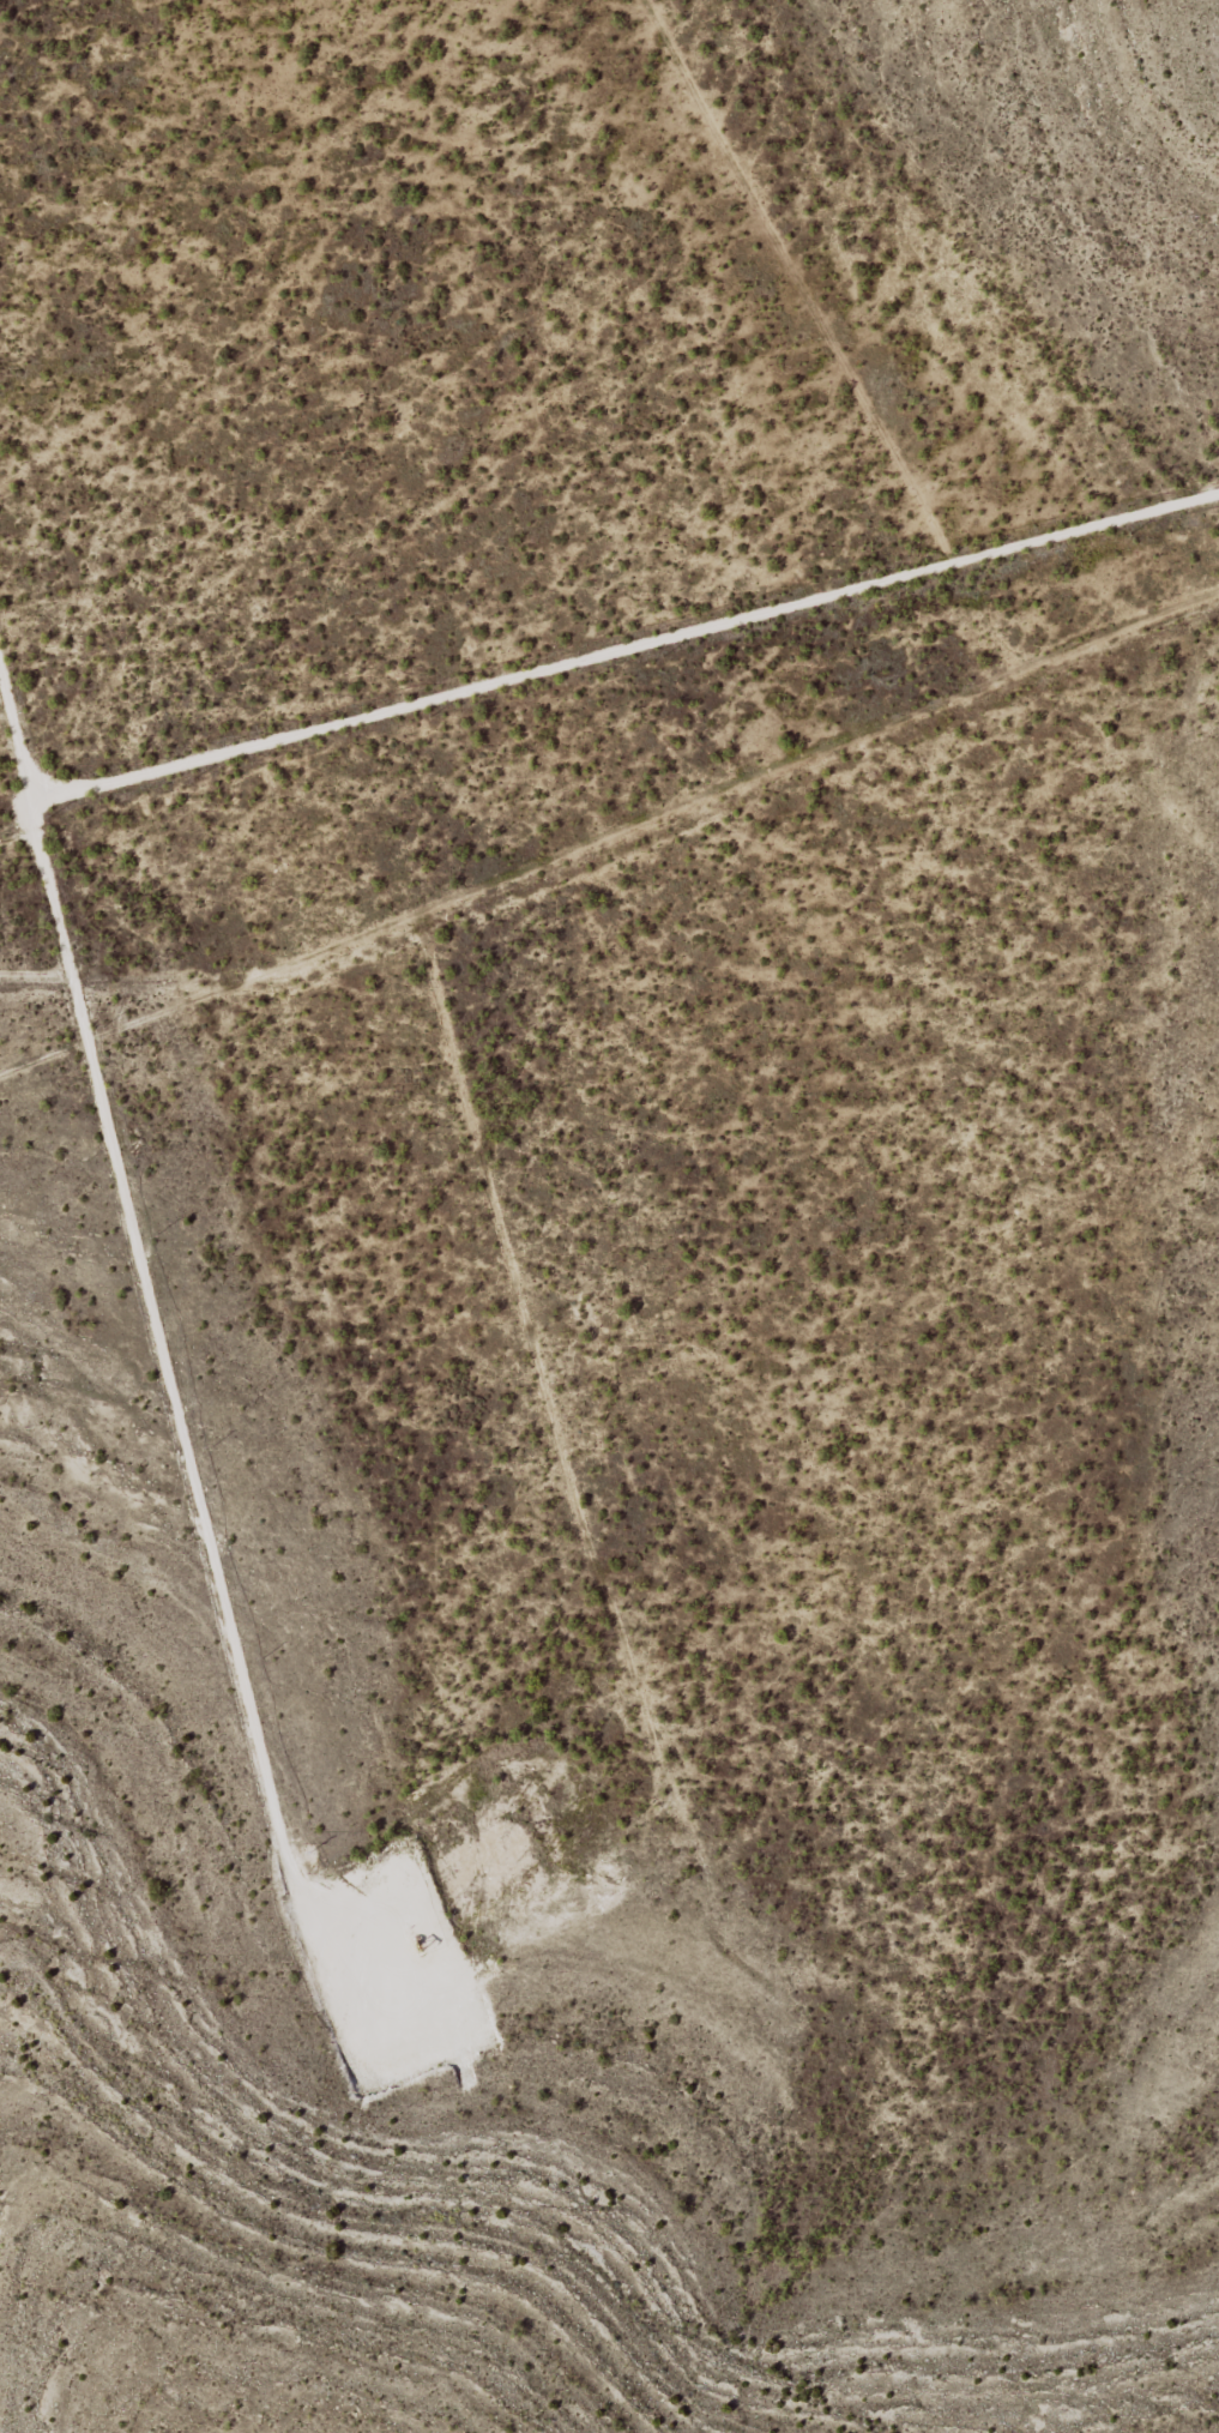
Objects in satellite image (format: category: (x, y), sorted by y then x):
road: (611, 1073)

